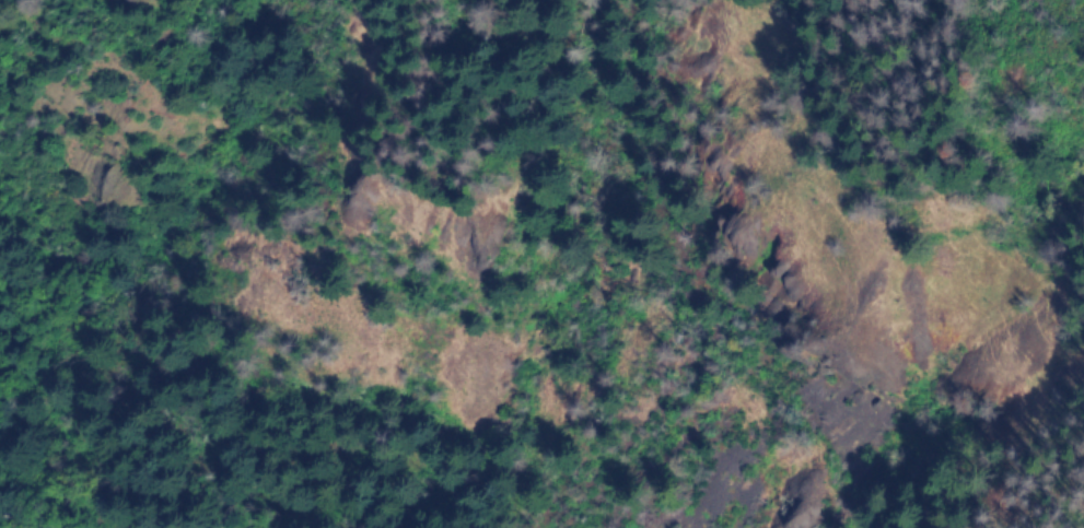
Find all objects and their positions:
road: (1059, 24)
road: (171, 149)
road: (135, 442)

